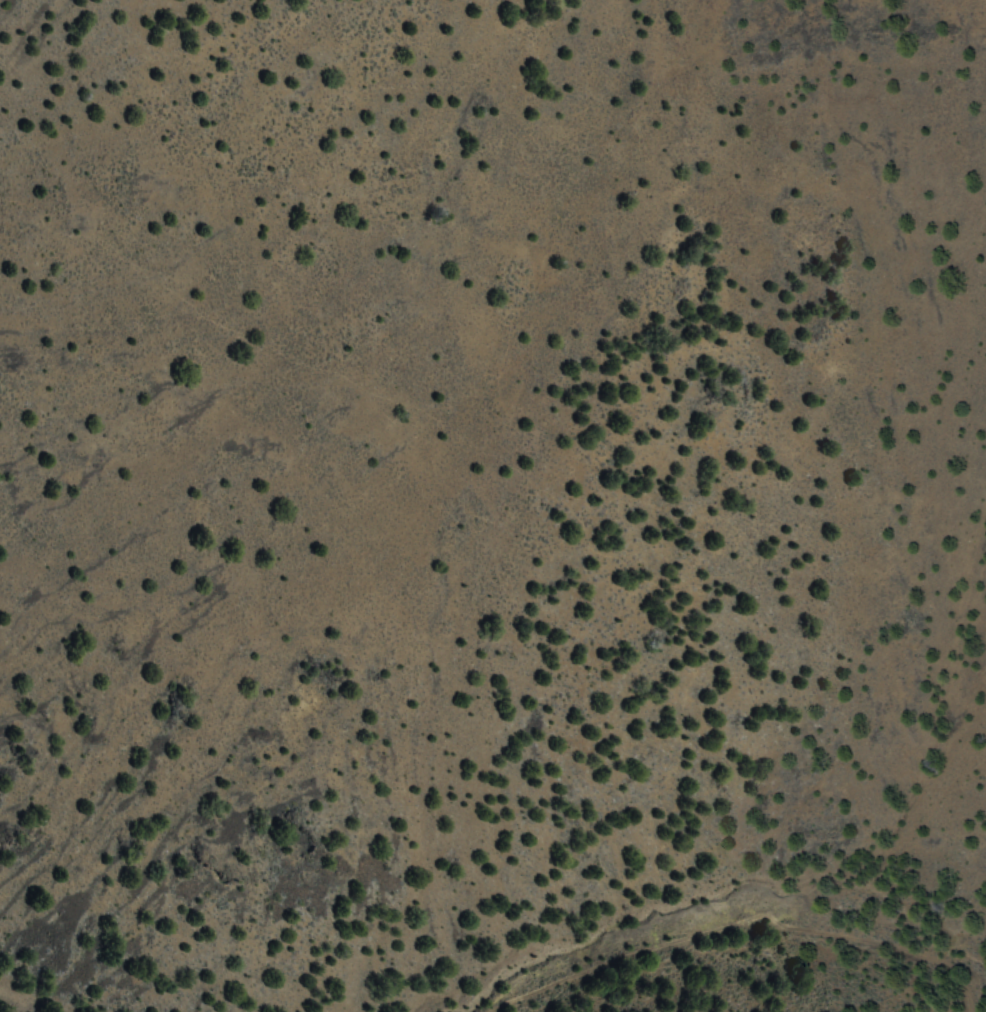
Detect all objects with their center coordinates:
road: (744, 928)

